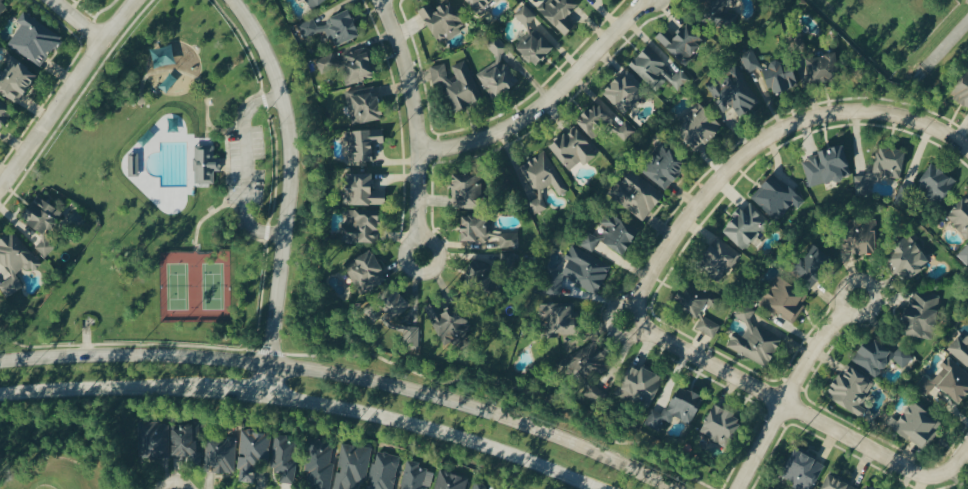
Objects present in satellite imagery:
building: (300, 0)
building: (315, 3)
building: (3, 5)
building: (482, 5)
building: (721, 5)
building: (561, 13)
building: (526, 15)
building: (444, 19)
road: (77, 21)
crop: (884, 26)
building: (335, 27)
building: (35, 39)
building: (683, 41)
road: (945, 43)
building: (538, 46)
building: (751, 60)
building: (328, 63)
building: (359, 65)
building: (825, 67)
building: (657, 68)
building: (499, 71)
building: (783, 75)
building: (16, 78)
building: (458, 85)
building: (963, 90)
building: (626, 92)
building: (735, 92)
road: (66, 94)
road: (549, 102)
building: (366, 105)
building: (5, 113)
building: (597, 119)
building: (701, 125)
road: (416, 126)
road: (946, 136)
building: (364, 144)
building: (575, 148)
road: (742, 158)
building: (135, 164)
building: (207, 164)
building: (829, 165)
building: (666, 166)
building: (882, 168)
road: (245, 169)
building: (544, 173)
building: (938, 183)
park: (166, 190)
building: (365, 190)
building: (470, 190)
road: (288, 195)
building: (639, 196)
building: (777, 196)
building: (539, 202)
building: (43, 214)
building: (960, 216)
building: (747, 225)
building: (363, 226)
building: (477, 228)
building: (620, 232)
building: (863, 238)
building: (590, 242)
building: (509, 245)
building: (45, 246)
building: (722, 256)
building: (909, 257)
building: (15, 261)
building: (815, 264)
building: (367, 268)
building: (581, 271)
building: (483, 274)
building: (698, 297)
building: (786, 298)
building: (923, 313)
building: (400, 315)
building: (450, 319)
building: (709, 326)
building: (757, 343)
building: (960, 349)
building: (882, 356)
building: (589, 366)
road: (344, 376)
building: (949, 380)
building: (641, 385)
road: (792, 389)
building: (852, 389)
road: (100, 396)
road: (232, 402)
road: (779, 404)
building: (681, 407)
building: (722, 424)
building: (917, 425)
road: (424, 437)
building: (155, 439)
building: (188, 440)
building: (254, 452)
building: (223, 454)
building: (285, 457)
park: (55, 462)
building: (321, 466)
road: (954, 466)
building: (353, 467)
building: (385, 470)
building: (805, 470)
building: (416, 476)
building: (452, 481)
building: (838, 483)
building: (480, 486)
building: (870, 487)

